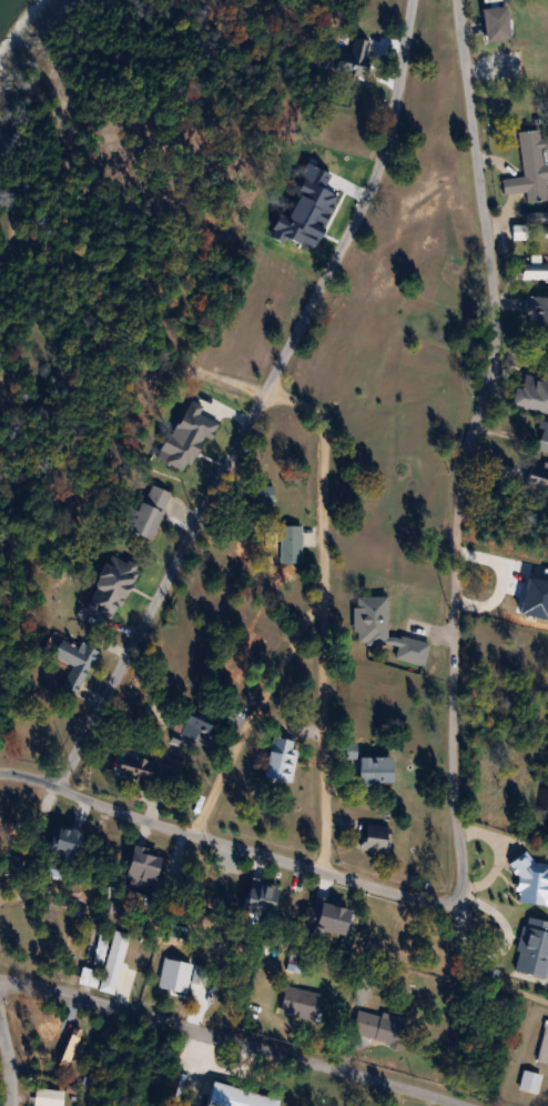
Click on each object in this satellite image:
building: (494, 20)
building: (353, 56)
building: (527, 165)
road: (357, 203)
building: (536, 215)
building: (532, 268)
building: (536, 314)
building: (531, 392)
building: (542, 438)
building: (536, 479)
building: (262, 493)
building: (149, 510)
road: (454, 515)
building: (288, 542)
building: (110, 585)
road: (158, 586)
road: (321, 612)
building: (382, 629)
building: (73, 662)
road: (254, 712)
building: (196, 724)
building: (280, 758)
building: (134, 767)
building: (368, 767)
road: (27, 776)
building: (540, 797)
road: (120, 812)
building: (373, 836)
road: (254, 852)
building: (99, 948)
building: (88, 976)
building: (304, 1004)
building: (376, 1026)
road: (234, 1040)
building: (542, 1044)
road: (8, 1070)
building: (527, 1080)

